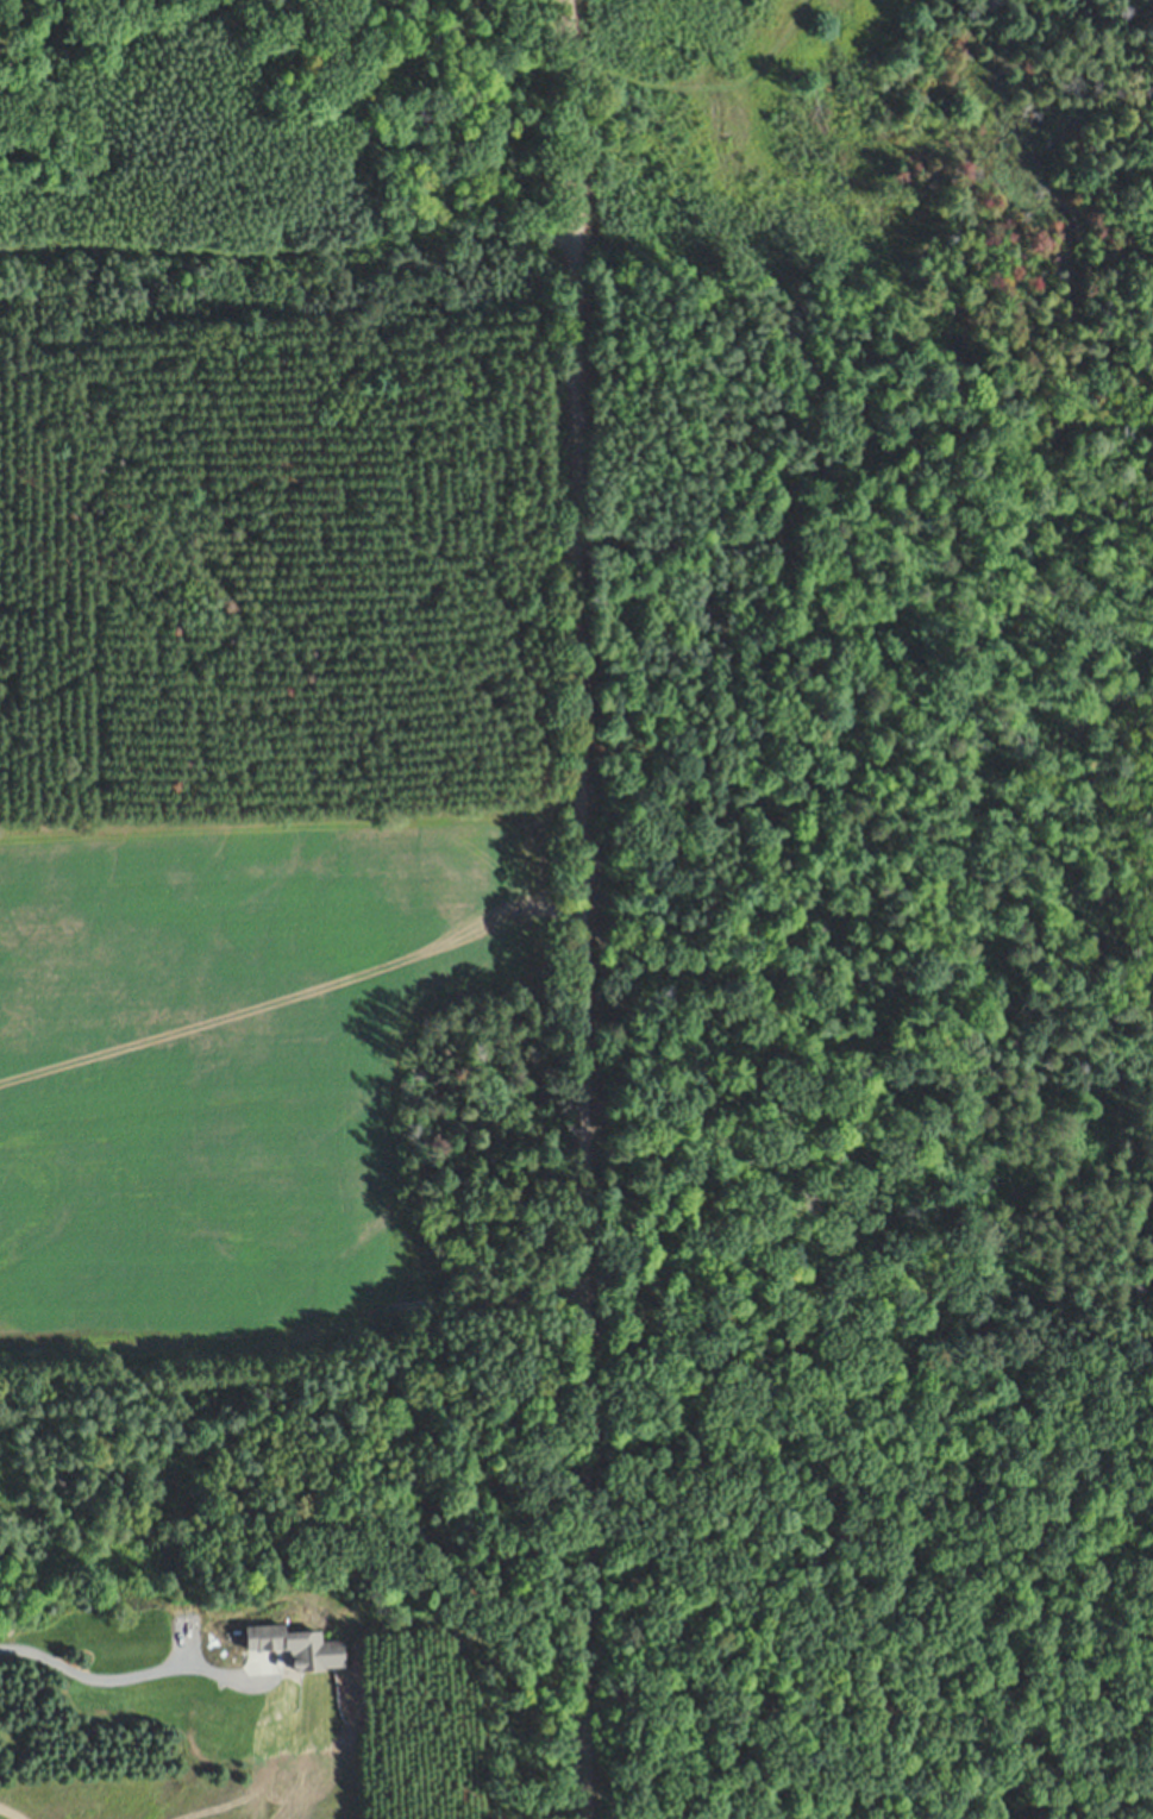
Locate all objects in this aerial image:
road: (568, 909)
building: (297, 1646)

